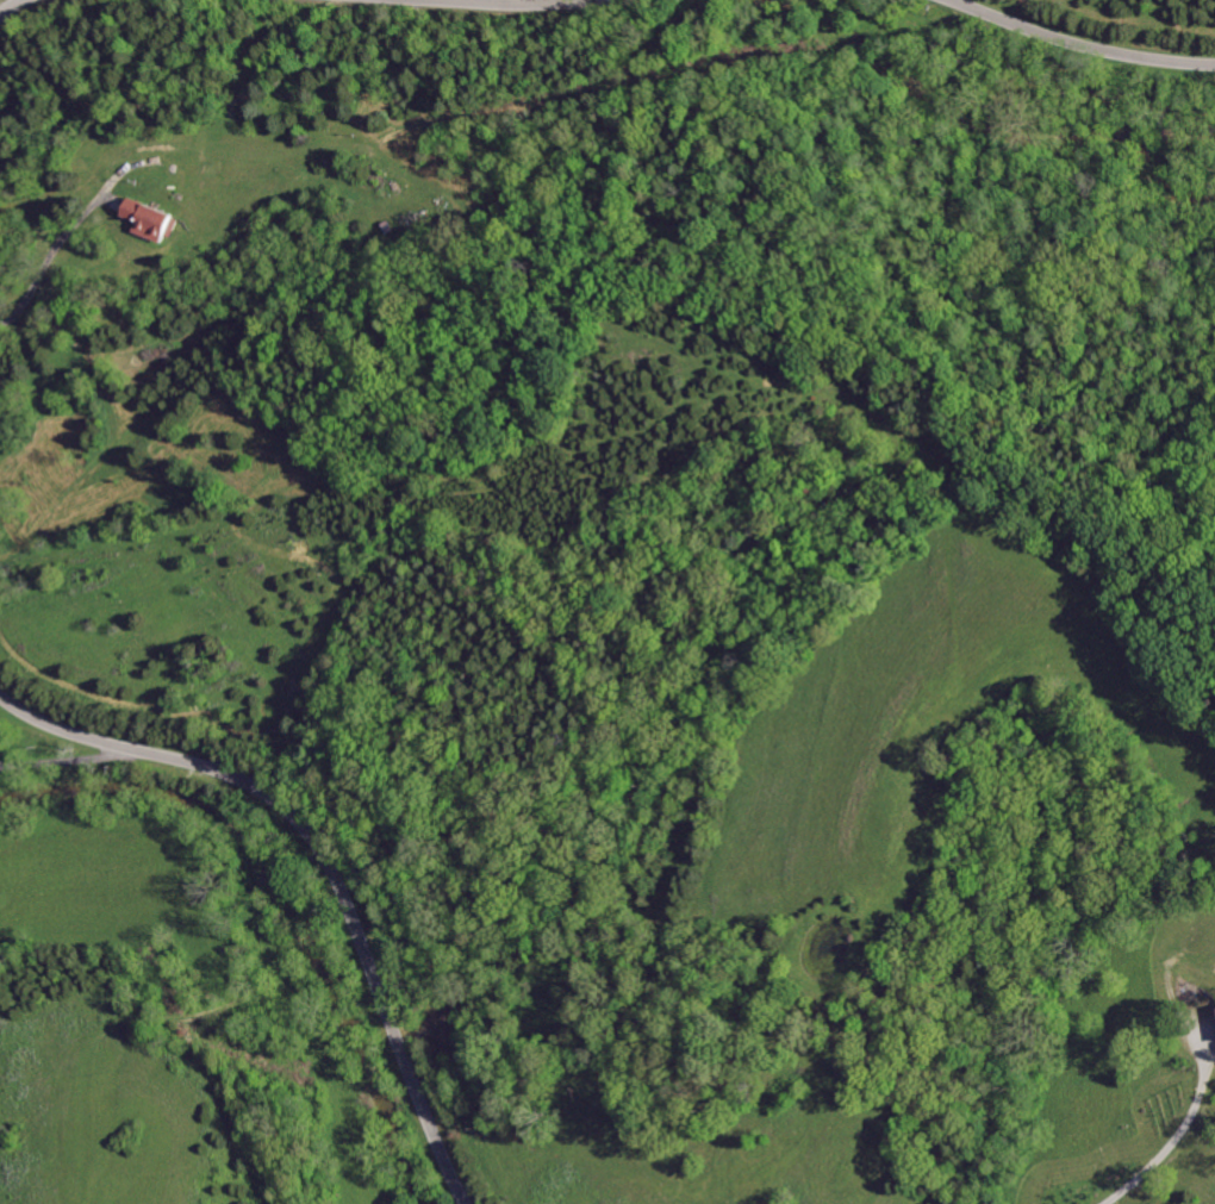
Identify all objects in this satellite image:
road: (492, 2)
road: (10, 5)
road: (1077, 44)
building: (148, 219)
road: (118, 630)
road: (324, 859)
road: (1171, 1143)

